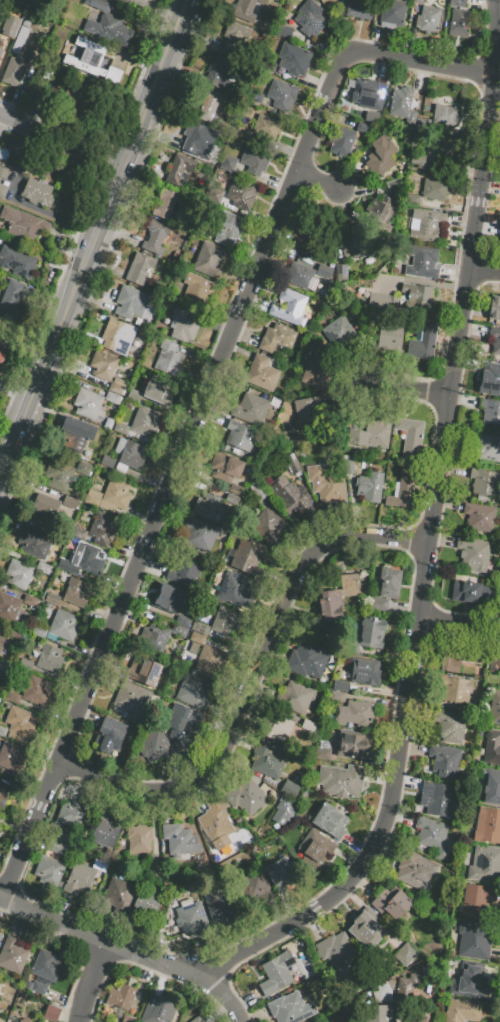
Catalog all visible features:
building: (125, 1)
building: (418, 1)
building: (457, 3)
building: (359, 8)
building: (247, 9)
building: (393, 12)
building: (309, 18)
building: (428, 19)
building: (459, 22)
building: (11, 23)
building: (107, 24)
building: (20, 36)
building: (233, 37)
building: (1, 52)
building: (91, 60)
building: (295, 63)
building: (268, 67)
building: (12, 72)
building: (218, 72)
road: (148, 82)
road: (159, 83)
building: (281, 94)
building: (38, 96)
building: (373, 96)
building: (74, 99)
building: (402, 104)
building: (208, 106)
building: (446, 112)
building: (366, 115)
building: (422, 124)
building: (265, 126)
building: (364, 128)
building: (241, 132)
building: (193, 136)
road: (62, 139)
building: (343, 142)
building: (440, 148)
building: (380, 156)
building: (254, 160)
building: (418, 160)
building: (228, 162)
building: (178, 169)
building: (3, 172)
road: (318, 184)
building: (435, 189)
building: (2, 191)
road: (114, 192)
building: (39, 193)
building: (241, 195)
building: (412, 200)
road: (21, 203)
building: (166, 203)
building: (379, 214)
building: (427, 225)
building: (22, 226)
building: (227, 228)
building: (307, 232)
building: (155, 237)
building: (355, 244)
building: (499, 245)
building: (208, 260)
building: (421, 261)
building: (19, 263)
building: (139, 268)
building: (324, 271)
building: (341, 273)
road: (485, 273)
building: (300, 275)
building: (197, 288)
building: (417, 298)
building: (11, 300)
building: (128, 301)
building: (379, 301)
building: (290, 307)
building: (494, 308)
building: (182, 324)
building: (338, 332)
building: (117, 336)
building: (277, 338)
building: (495, 338)
building: (390, 339)
building: (423, 342)
road: (51, 346)
building: (315, 348)
building: (1, 357)
building: (169, 359)
building: (103, 365)
building: (261, 373)
building: (315, 373)
building: (492, 375)
building: (116, 388)
road: (14, 391)
road: (409, 391)
building: (157, 392)
building: (134, 395)
building: (113, 397)
building: (87, 404)
building: (307, 407)
building: (251, 408)
road: (200, 409)
building: (490, 411)
building: (145, 422)
building: (121, 428)
building: (99, 431)
building: (372, 434)
building: (410, 434)
building: (240, 436)
building: (76, 437)
building: (487, 447)
building: (132, 455)
building: (107, 461)
road: (2, 462)
building: (349, 465)
building: (224, 467)
building: (296, 467)
building: (85, 471)
building: (60, 478)
building: (327, 483)
building: (484, 483)
building: (369, 487)
building: (236, 489)
building: (402, 490)
building: (258, 491)
building: (118, 496)
building: (232, 499)
building: (294, 500)
building: (71, 504)
building: (209, 505)
building: (46, 508)
building: (479, 517)
building: (268, 527)
building: (103, 528)
building: (200, 534)
road: (430, 536)
building: (34, 542)
building: (474, 554)
building: (248, 558)
building: (84, 561)
building: (43, 568)
building: (18, 574)
building: (184, 574)
building: (388, 582)
building: (351, 584)
building: (235, 589)
building: (77, 593)
building: (471, 593)
building: (51, 598)
building: (170, 598)
building: (30, 601)
building: (377, 604)
building: (8, 607)
building: (329, 607)
building: (225, 620)
building: (182, 621)
building: (63, 625)
road: (459, 625)
building: (200, 628)
building: (179, 630)
building: (39, 631)
building: (372, 633)
building: (17, 634)
building: (197, 637)
building: (155, 638)
building: (2, 639)
building: (50, 658)
building: (309, 659)
building: (460, 659)
building: (209, 660)
building: (494, 662)
building: (5, 667)
building: (364, 671)
building: (145, 673)
building: (340, 674)
road: (257, 684)
building: (340, 685)
building: (34, 689)
building: (456, 691)
building: (193, 692)
building: (336, 696)
building: (12, 697)
building: (294, 698)
building: (0, 700)
building: (131, 700)
building: (495, 708)
building: (354, 714)
building: (181, 724)
building: (20, 725)
building: (451, 727)
building: (278, 728)
building: (3, 730)
building: (109, 739)
building: (354, 745)
building: (155, 746)
building: (492, 749)
building: (322, 754)
building: (11, 756)
building: (268, 759)
building: (445, 761)
building: (339, 780)
building: (290, 789)
building: (491, 791)
building: (247, 796)
building: (438, 798)
building: (5, 800)
building: (282, 811)
building: (73, 814)
building: (216, 821)
building: (330, 821)
building: (487, 826)
building: (106, 833)
building: (433, 837)
building: (138, 838)
building: (0, 839)
building: (180, 840)
building: (73, 841)
building: (155, 844)
building: (163, 847)
building: (60, 849)
building: (314, 850)
building: (485, 864)
building: (48, 870)
building: (416, 871)
building: (283, 875)
building: (78, 879)
building: (255, 889)
building: (119, 894)
building: (477, 900)
building: (391, 903)
building: (146, 904)
building: (219, 909)
building: (191, 917)
building: (366, 928)
building: (1, 937)
building: (474, 940)
road: (127, 952)
building: (404, 953)
building: (12, 955)
building: (339, 955)
building: (46, 965)
building: (276, 973)
building: (468, 981)
road: (90, 982)
building: (406, 984)
building: (38, 987)
building: (381, 991)
building: (121, 996)
building: (288, 1008)
building: (155, 1010)
building: (462, 1010)
building: (52, 1012)
building: (383, 1013)
building: (418, 1018)
building: (128, 1019)
building: (1, 1020)
building: (22, 1020)
building: (196, 1020)

